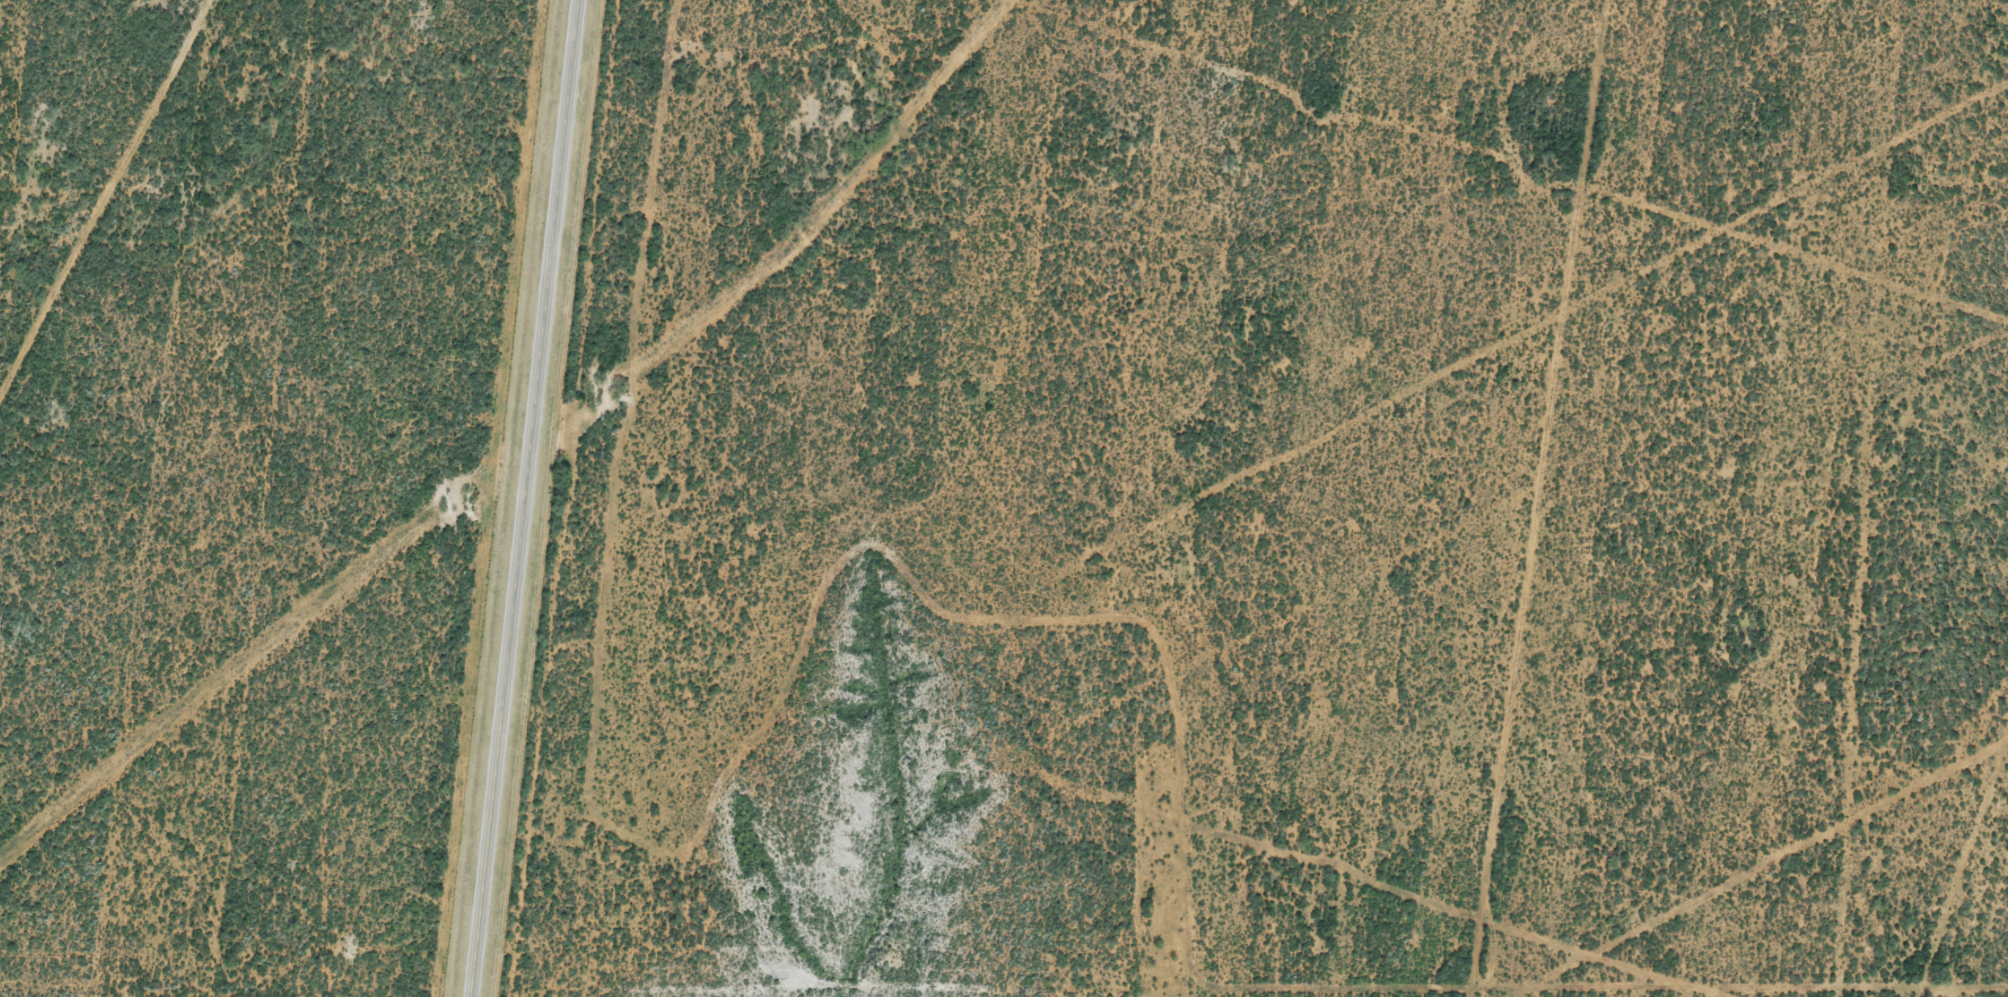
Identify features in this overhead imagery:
road: (530, 498)

